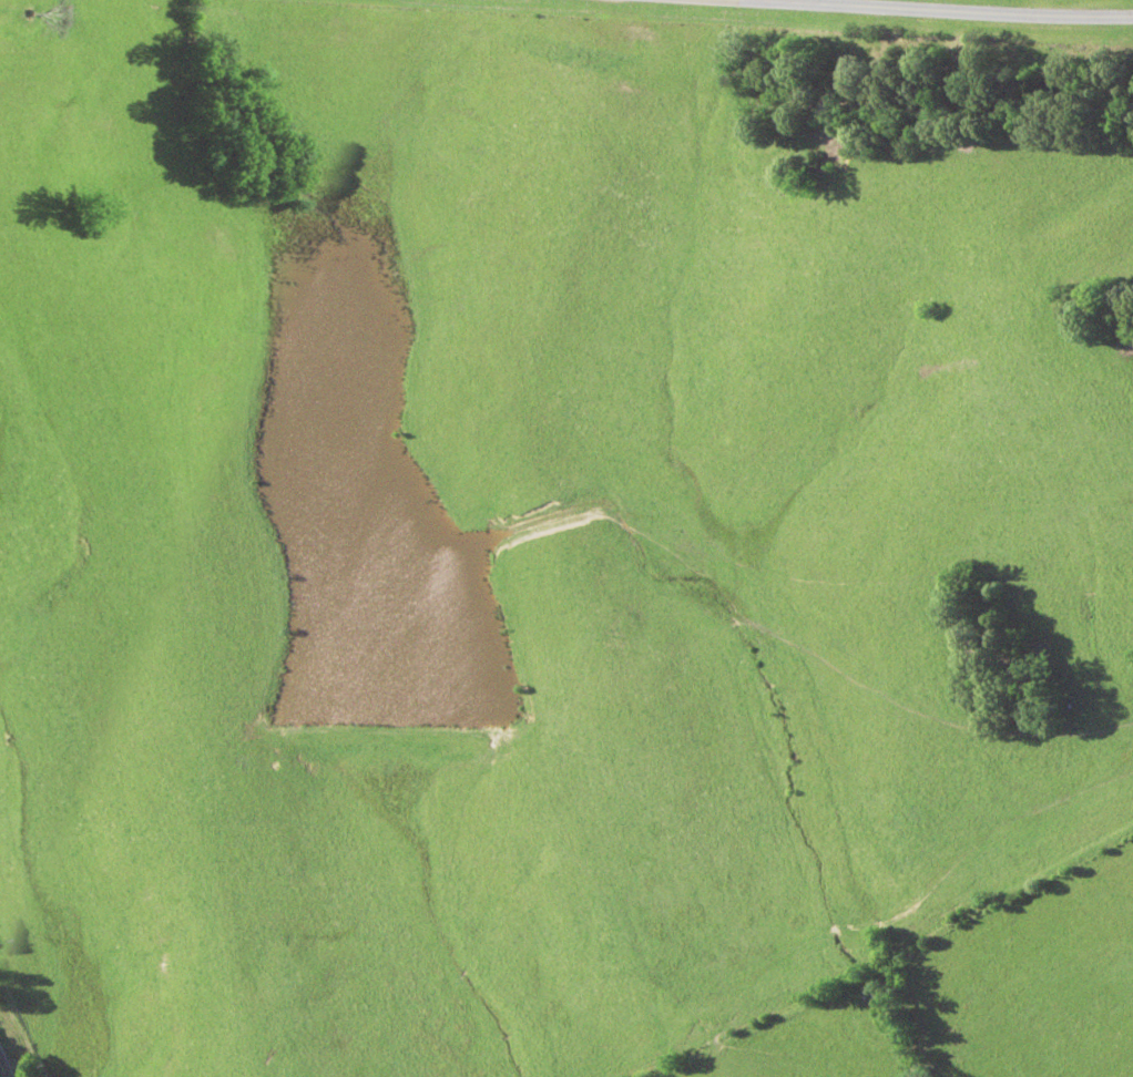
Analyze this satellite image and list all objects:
road: (939, 10)
road: (2, 1069)

